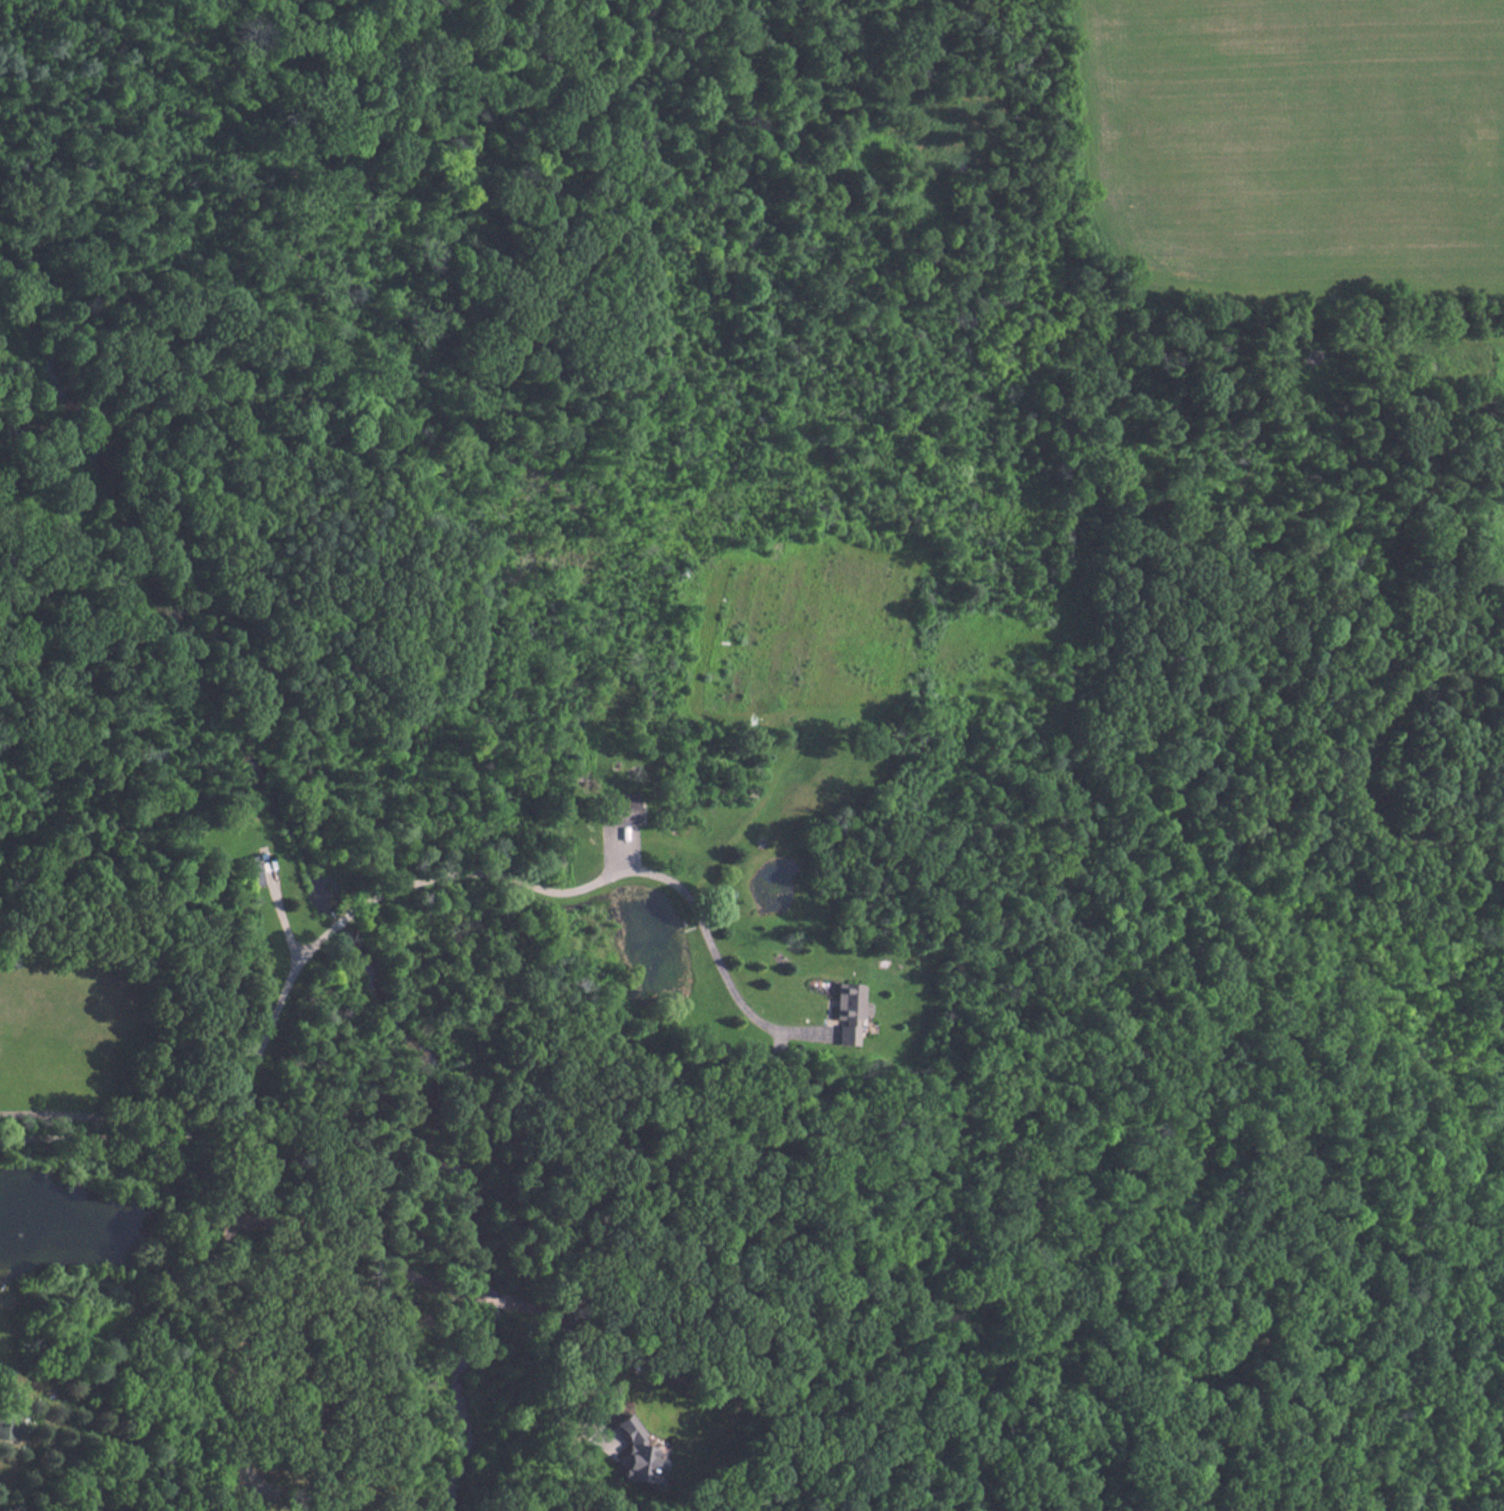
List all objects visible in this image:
building: (623, 808)
road: (468, 864)
building: (251, 870)
building: (850, 1011)
road: (223, 1218)
building: (9, 1425)
building: (641, 1459)

